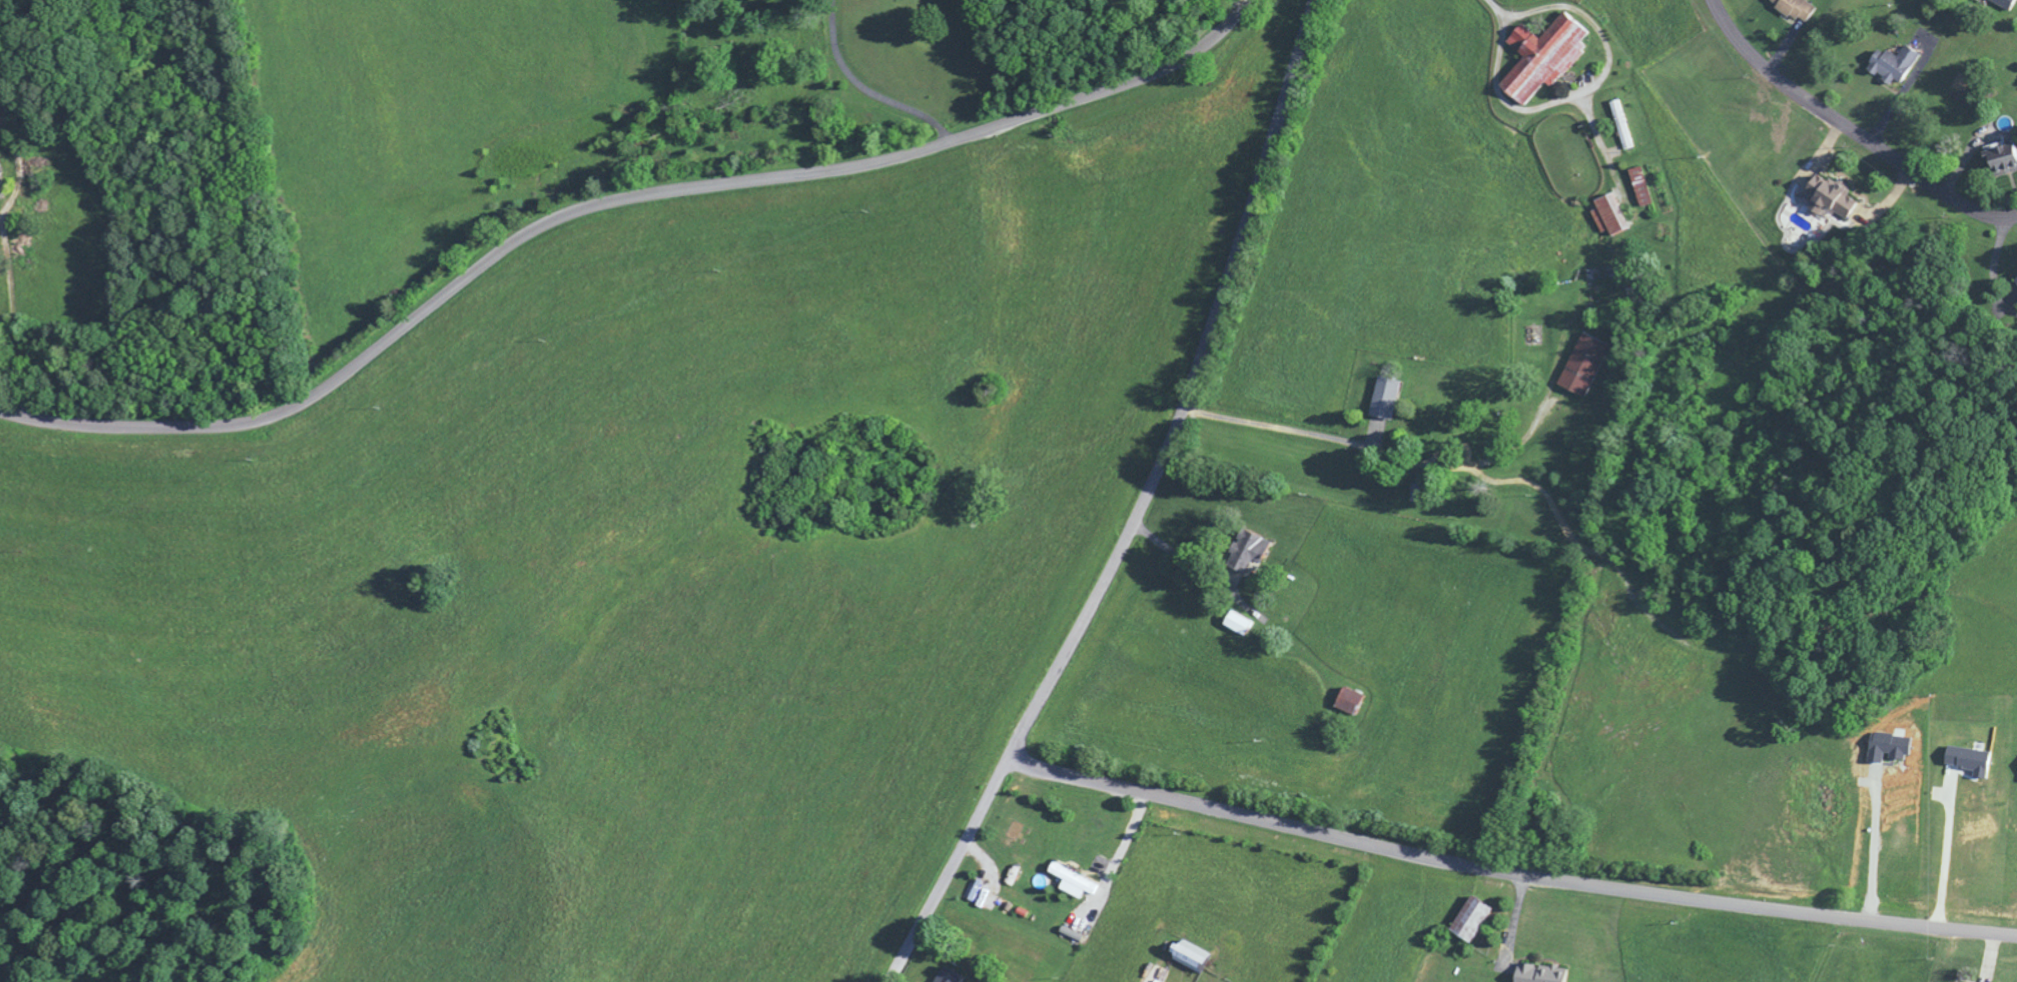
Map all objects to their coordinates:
building: (1999, 4)
building: (1790, 10)
building: (1537, 61)
building: (1887, 67)
building: (1617, 127)
road: (1851, 129)
building: (1998, 162)
building: (1636, 189)
building: (1823, 199)
road: (612, 200)
building: (1602, 216)
building: (2014, 285)
building: (1578, 368)
building: (1381, 401)
road: (1142, 508)
building: (1240, 626)
building: (1352, 705)
building: (1964, 764)
road: (1508, 873)
building: (1073, 886)
building: (1465, 923)
building: (1194, 962)
building: (1535, 975)
building: (948, 978)

